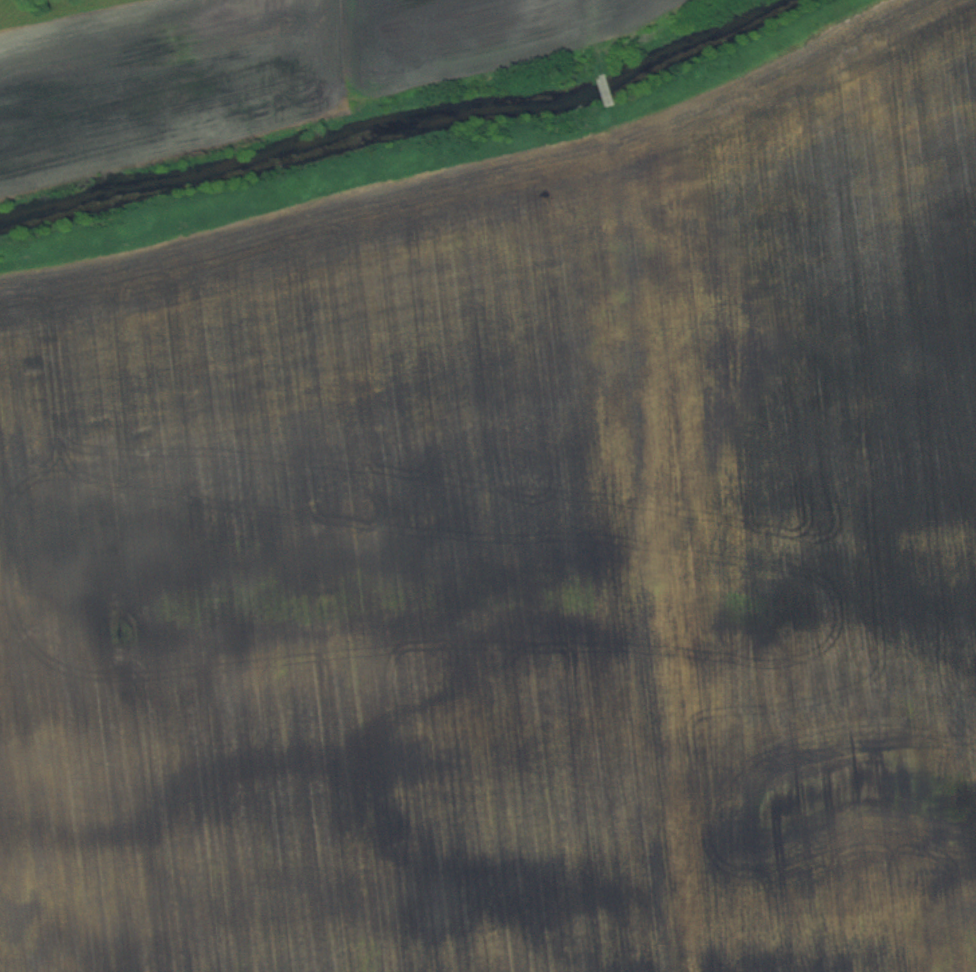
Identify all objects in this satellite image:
road: (599, 37)

